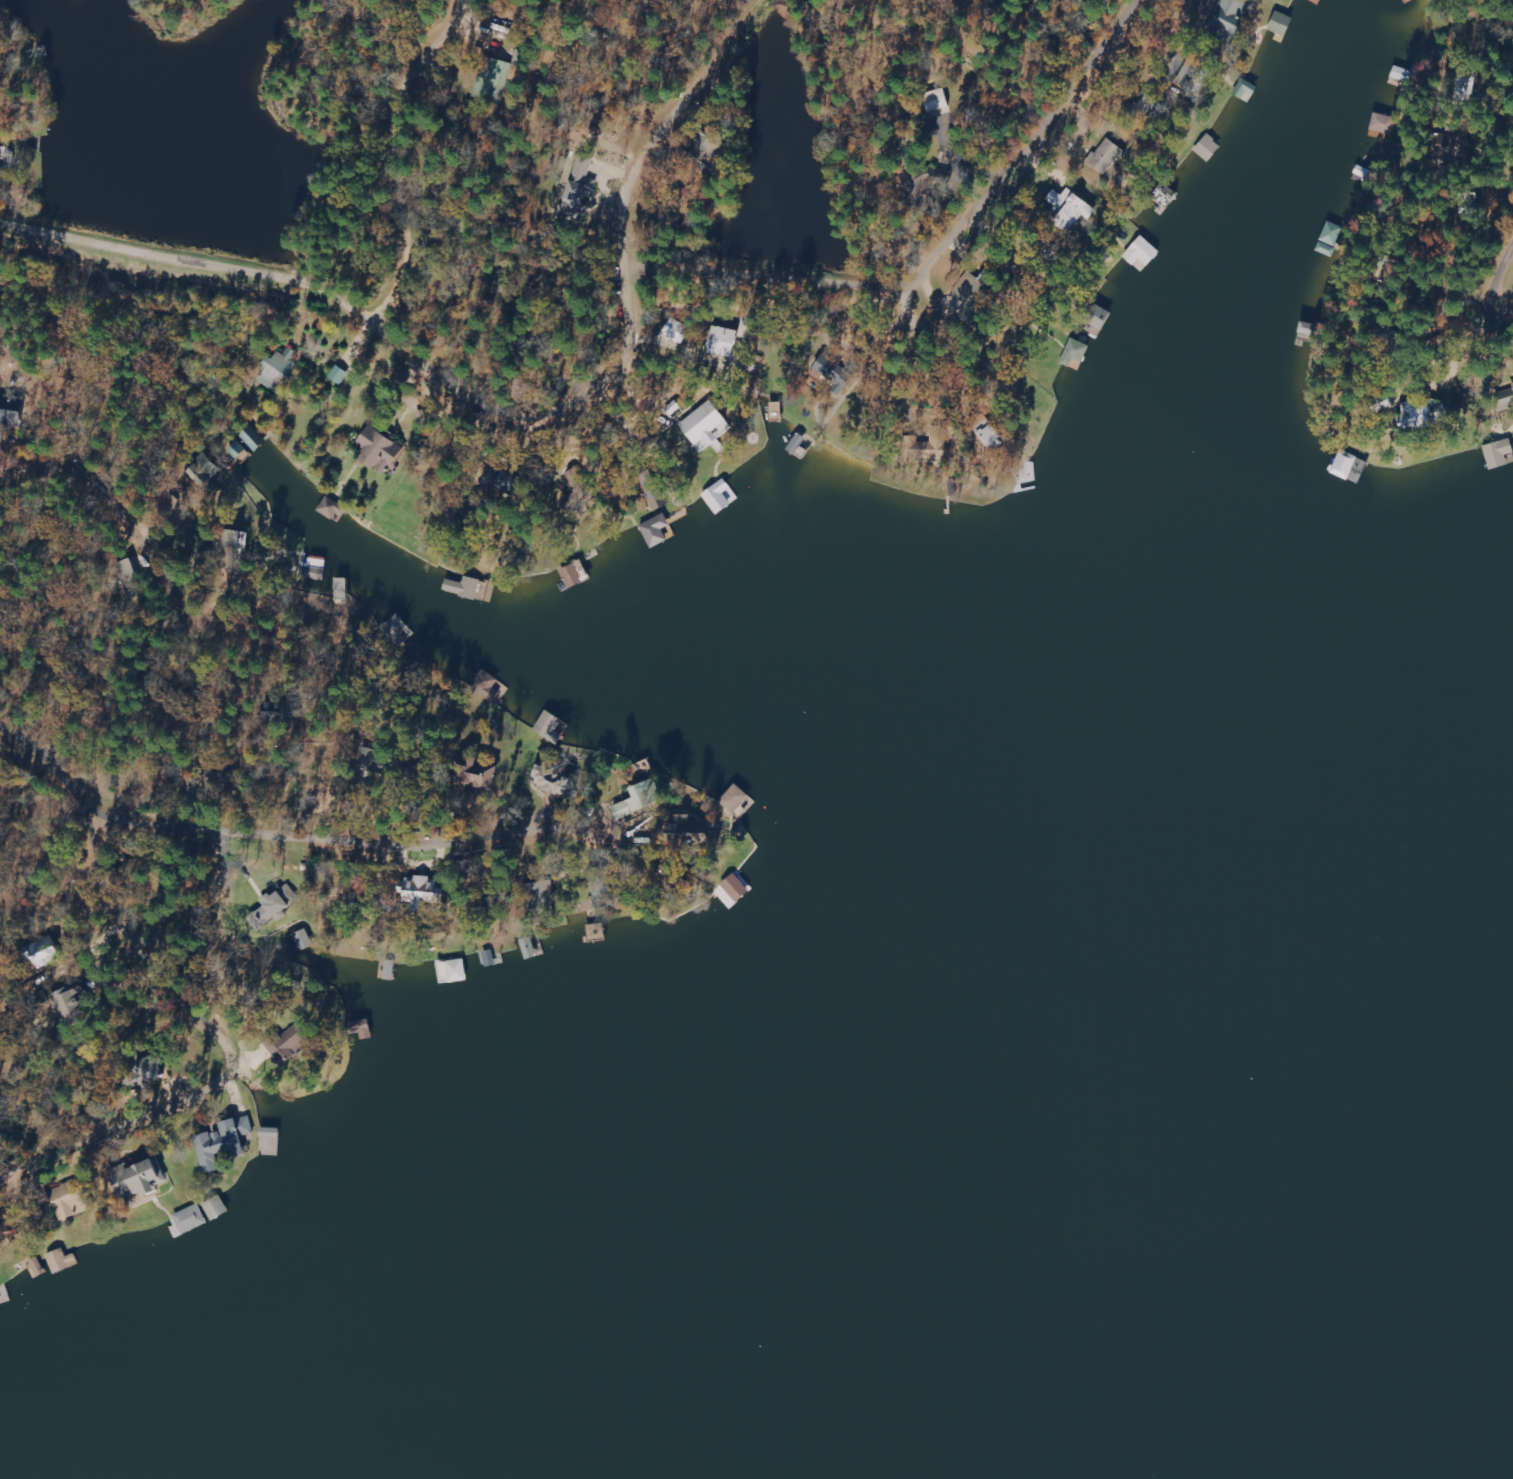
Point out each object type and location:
building: (1231, 18)
building: (1282, 24)
building: (1384, 124)
building: (1455, 143)
road: (407, 156)
building: (1106, 157)
building: (0, 159)
road: (1007, 172)
building: (582, 183)
building: (1070, 209)
road: (159, 243)
building: (1142, 253)
road: (1504, 274)
building: (677, 331)
road: (640, 341)
building: (723, 342)
building: (1075, 353)
building: (279, 370)
building: (834, 373)
building: (339, 376)
building: (1505, 400)
building: (11, 413)
building: (707, 428)
building: (988, 432)
building: (929, 447)
building: (379, 451)
building: (1499, 454)
building: (204, 470)
building: (578, 480)
building: (333, 510)
building: (656, 531)
building: (237, 542)
building: (314, 569)
building: (131, 577)
building: (572, 577)
building: (470, 588)
building: (398, 630)
road: (166, 642)
building: (489, 688)
building: (550, 727)
building: (485, 773)
building: (557, 780)
road: (98, 784)
building: (735, 798)
building: (641, 799)
road: (315, 820)
building: (692, 832)
building: (736, 887)
building: (544, 889)
building: (423, 891)
road: (101, 904)
building: (275, 906)
road: (222, 939)
building: (304, 940)
building: (43, 952)
building: (458, 971)
building: (72, 1000)
building: (290, 1043)
building: (151, 1071)
road: (250, 1087)
road: (211, 1108)
road: (121, 1121)
road: (157, 1131)
building: (224, 1142)
road: (92, 1161)
road: (41, 1176)
building: (141, 1179)
road: (13, 1185)
building: (73, 1199)
building: (217, 1208)
building: (191, 1219)
building: (9, 1223)
building: (62, 1260)

